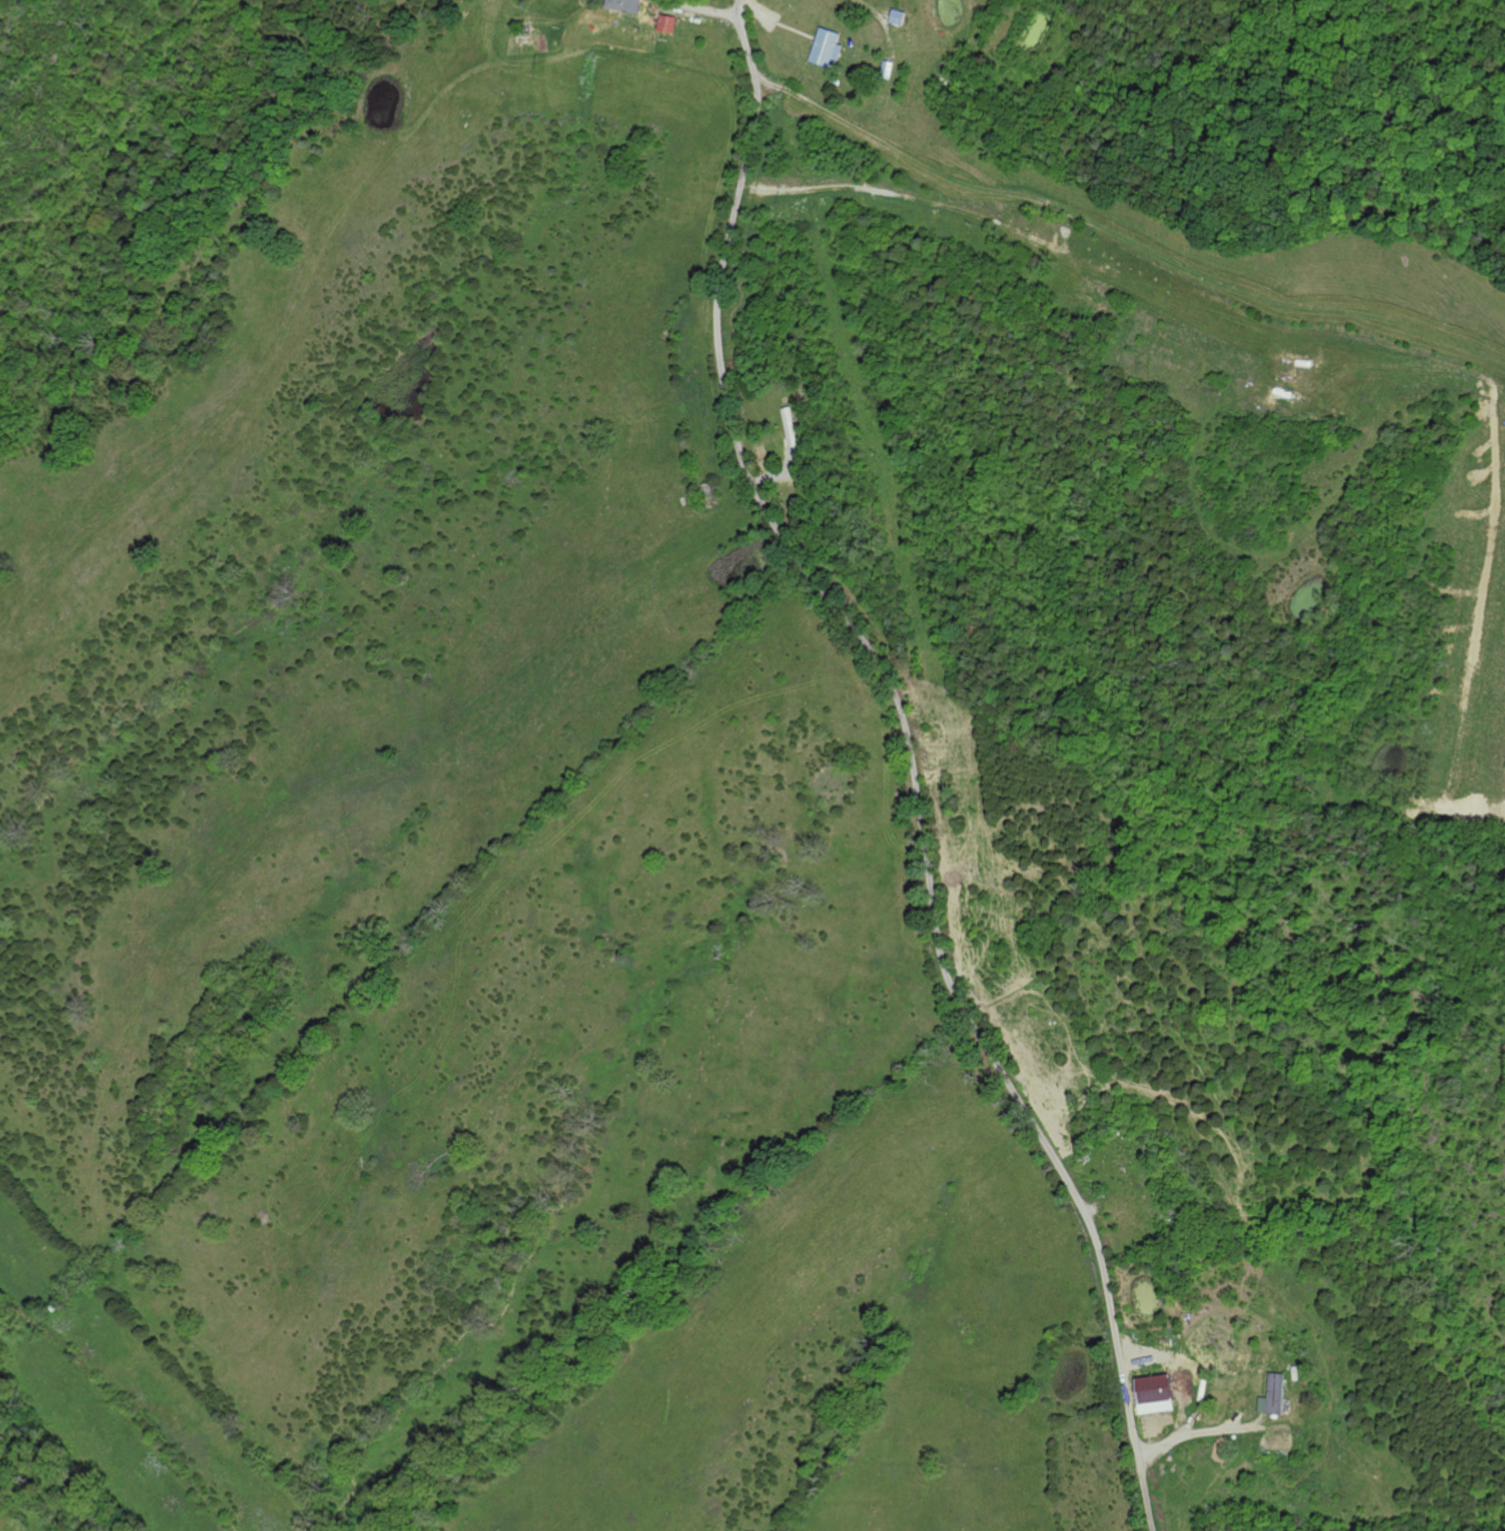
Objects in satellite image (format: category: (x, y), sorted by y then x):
building: (665, 25)
building: (826, 49)
road: (1131, 234)
road: (915, 760)
building: (1156, 1395)
building: (1276, 1395)

